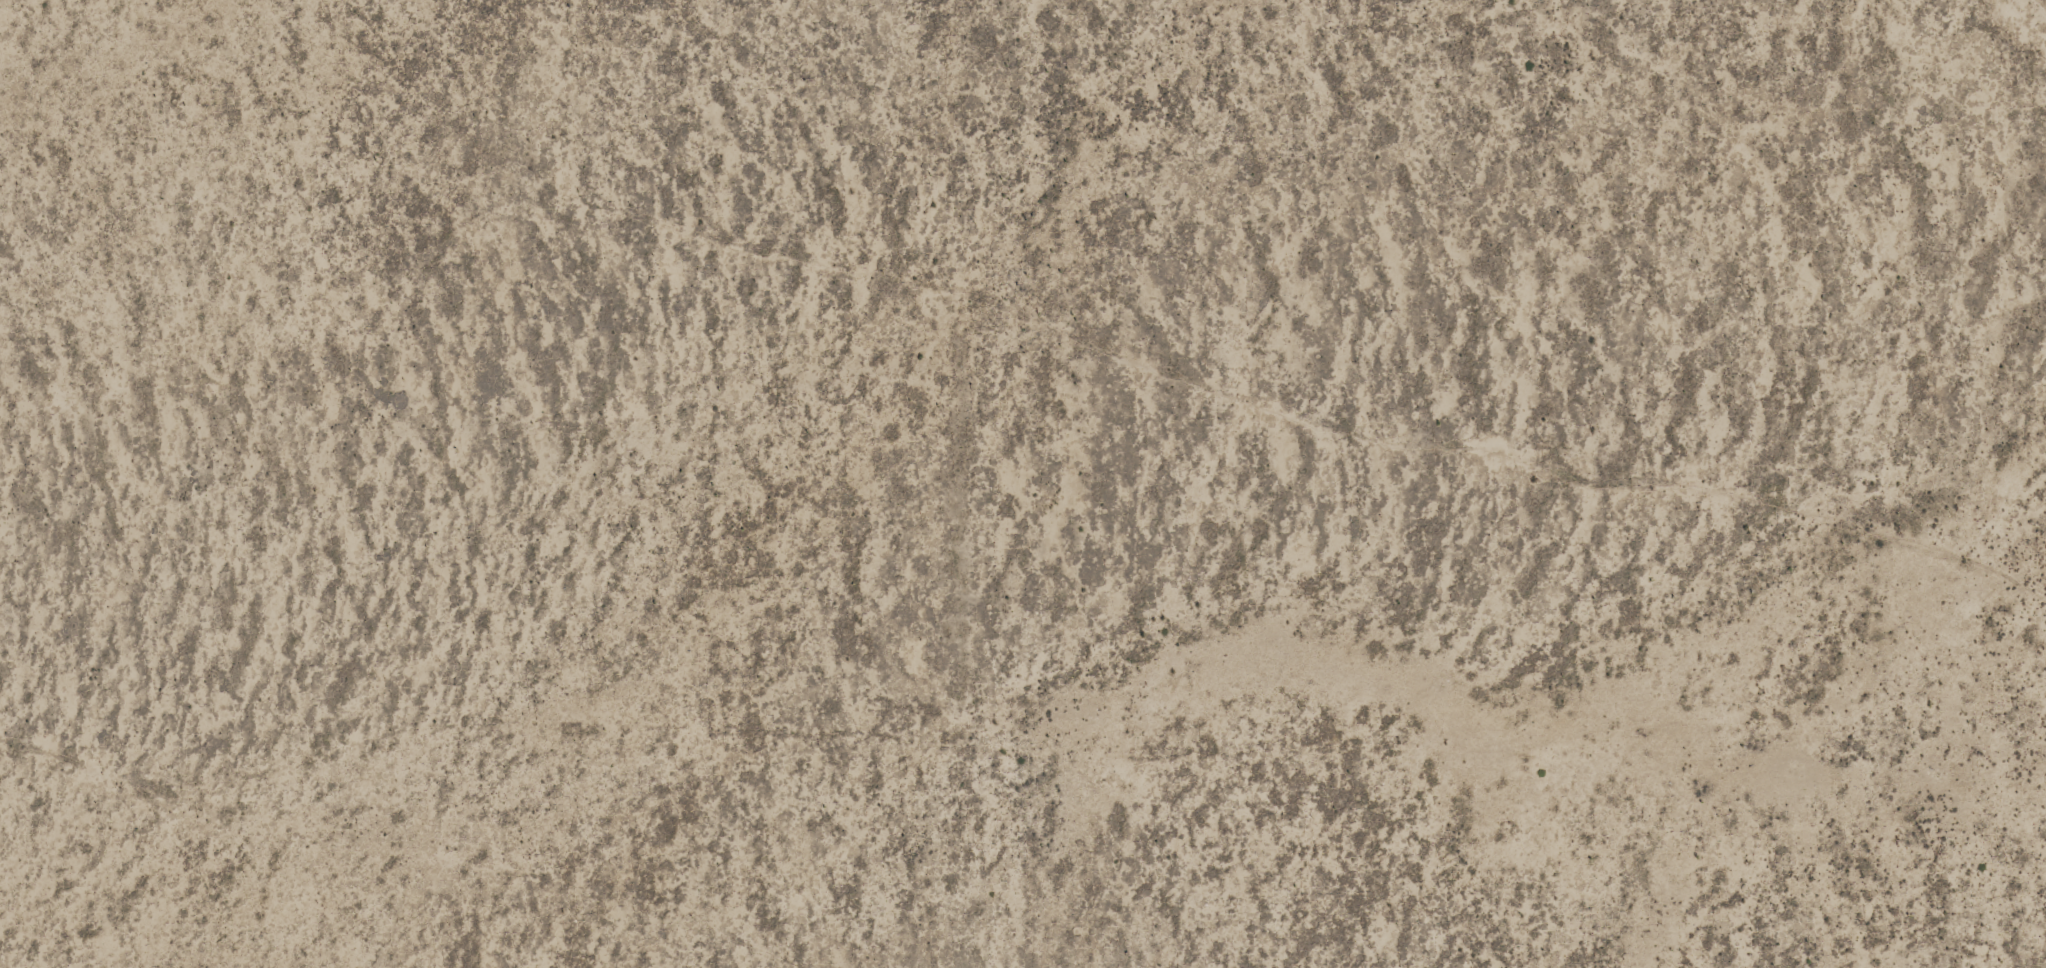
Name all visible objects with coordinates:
road: (2021, 26)

